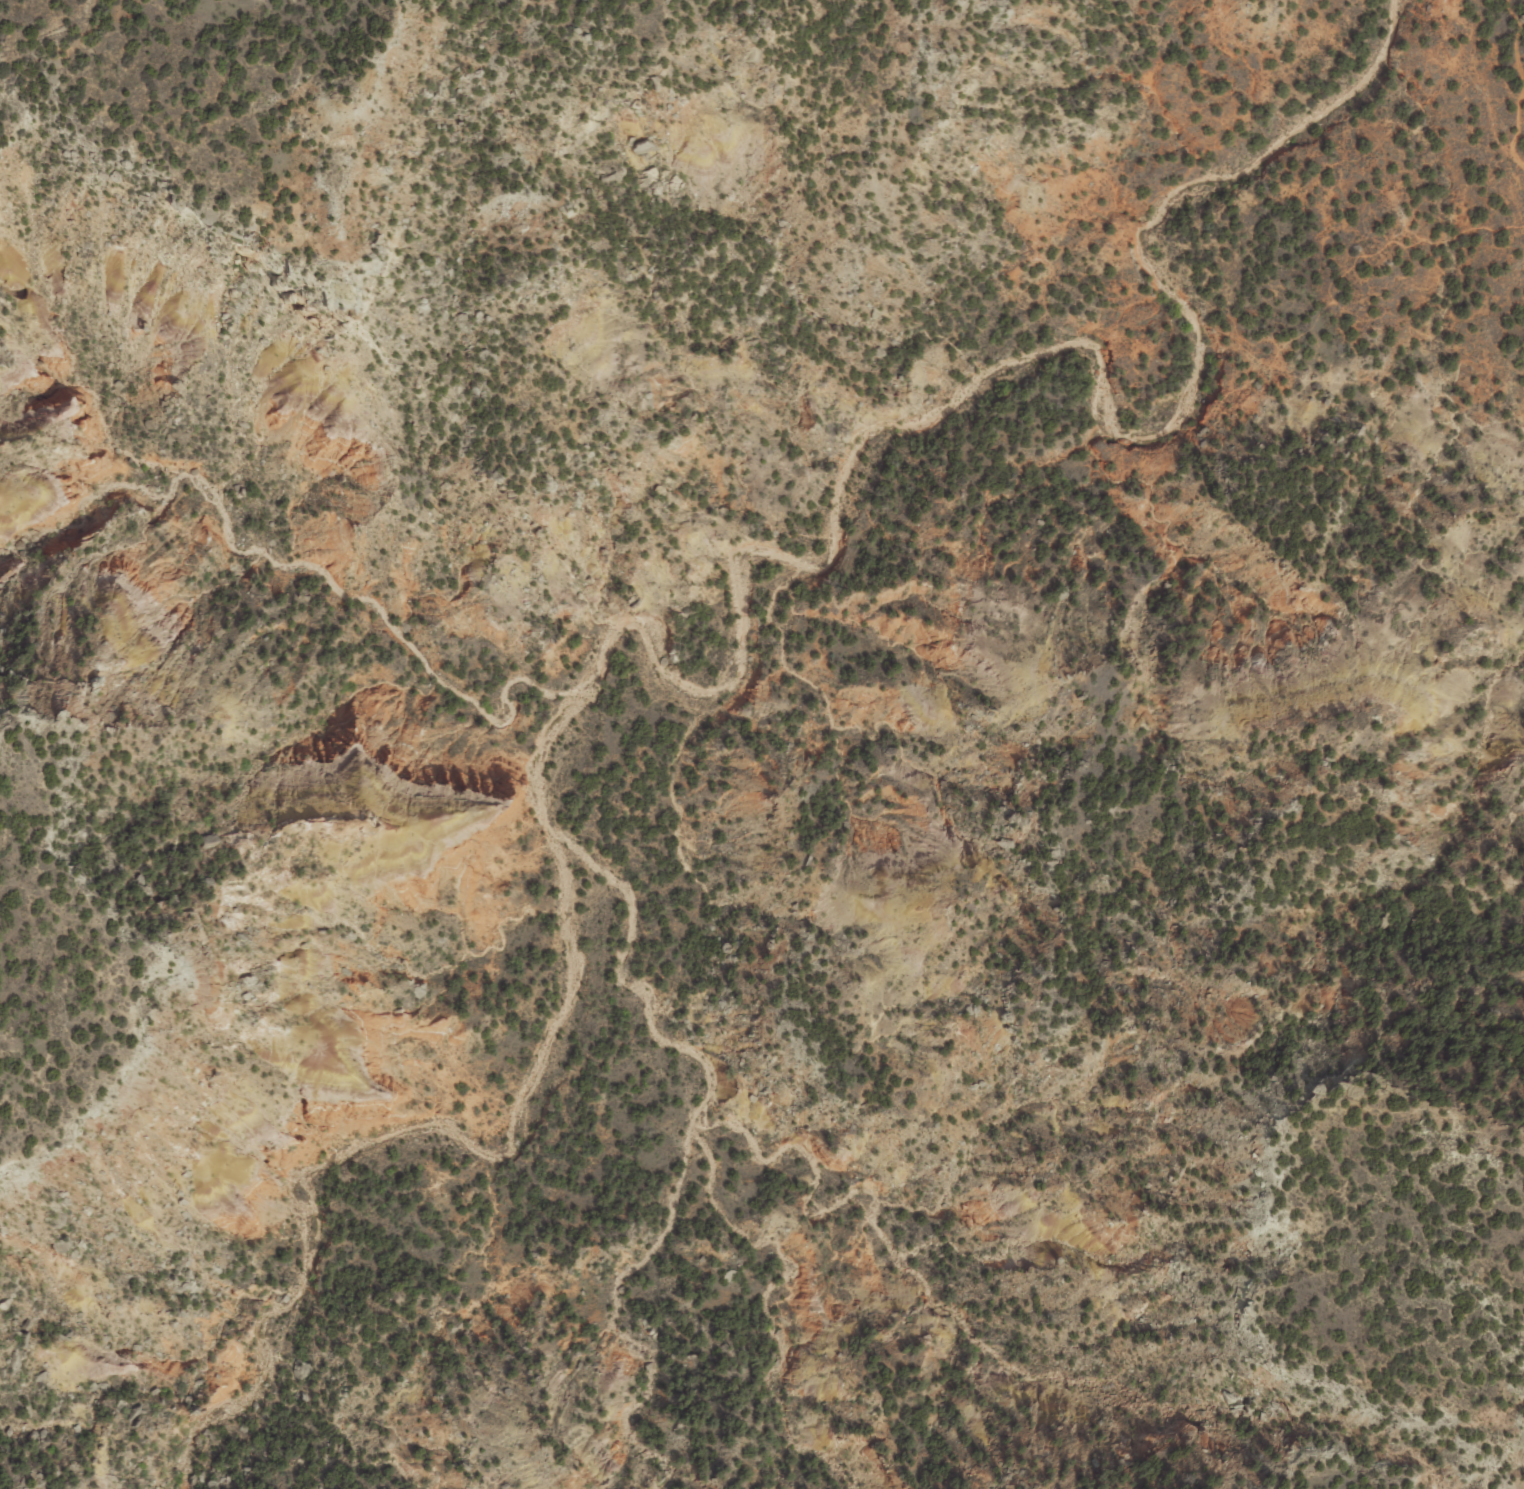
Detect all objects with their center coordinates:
road: (1521, 82)

